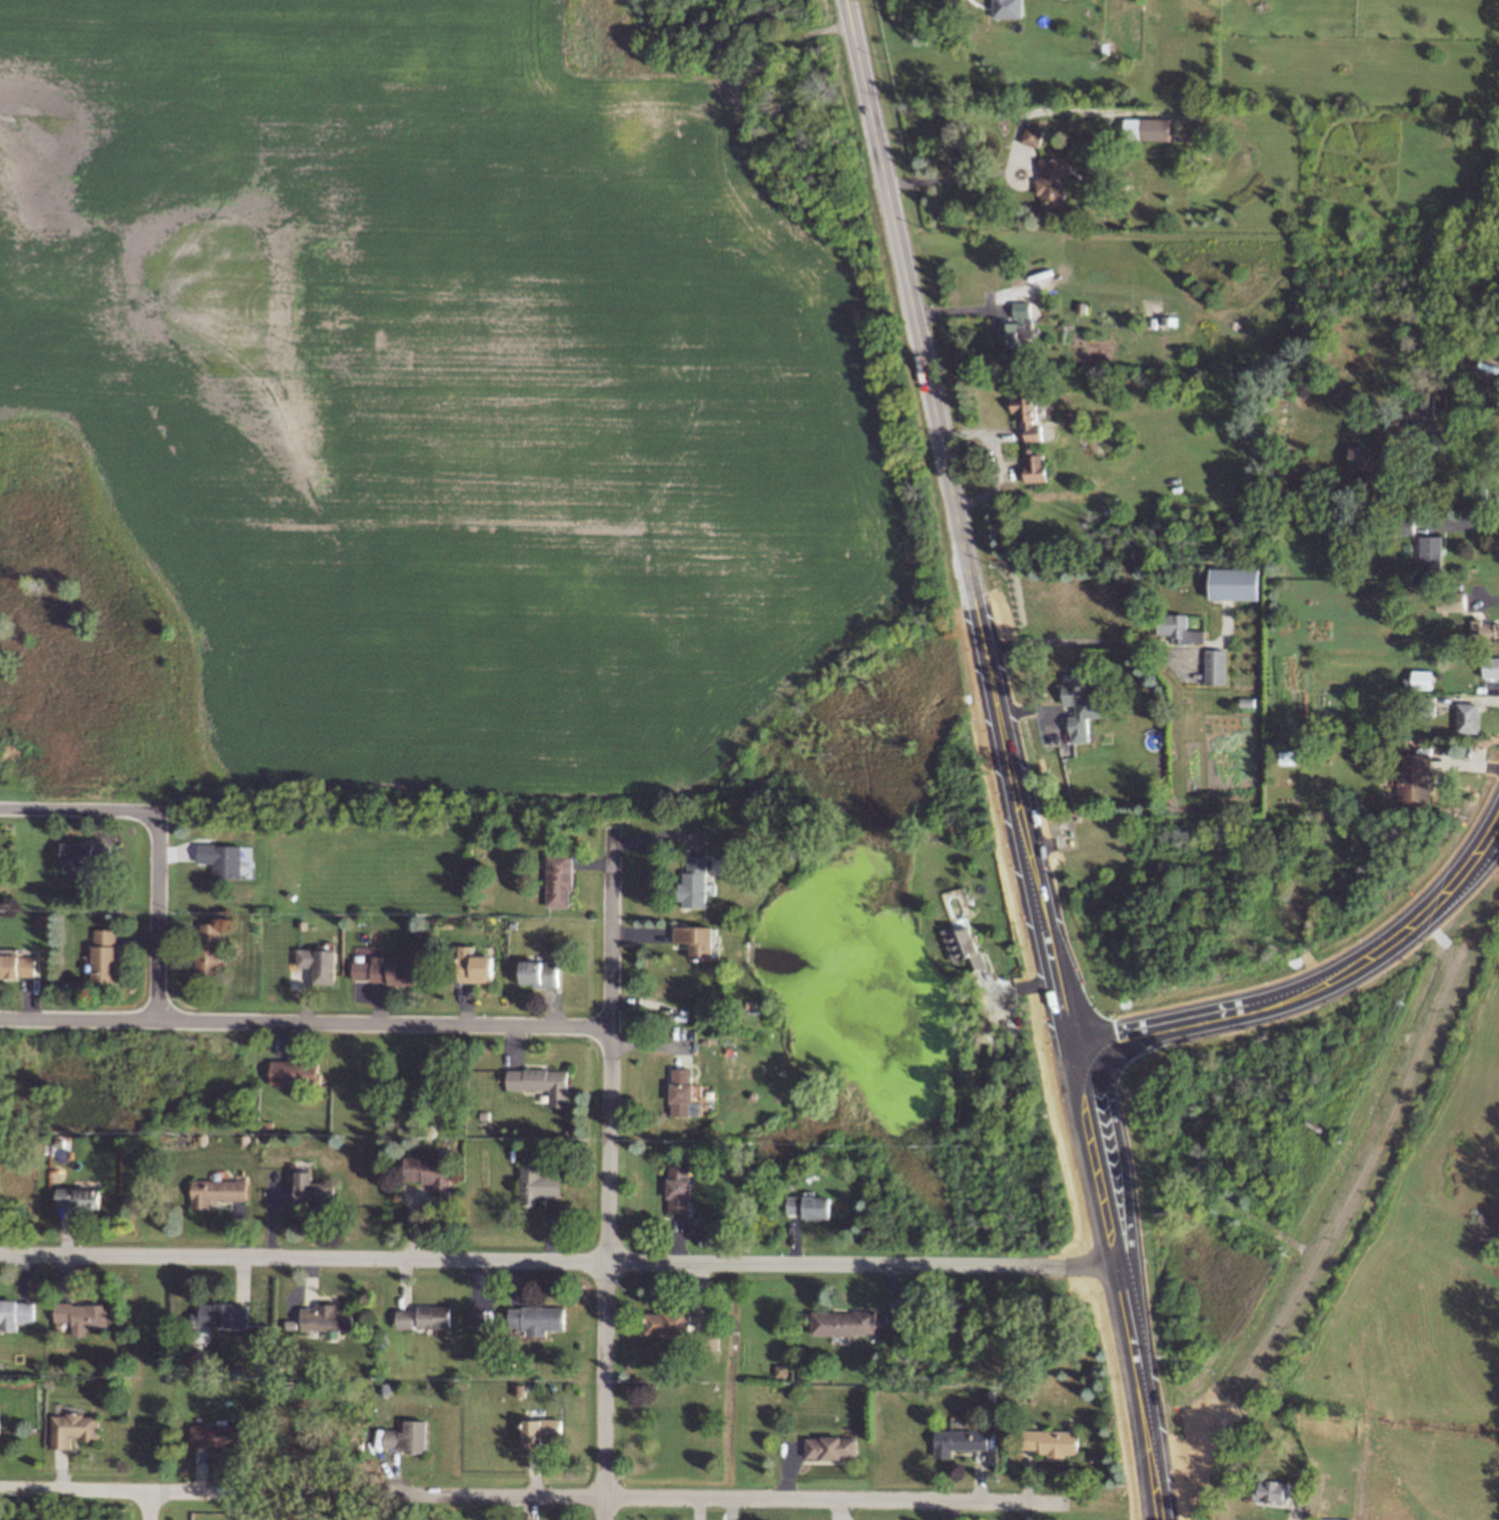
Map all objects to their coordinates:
building: (1008, 8)
building: (1146, 129)
building: (1032, 135)
road: (953, 179)
building: (1052, 182)
building: (1016, 325)
crop: (433, 390)
building: (1421, 410)
road: (1455, 434)
building: (1030, 437)
building: (1367, 461)
road: (1466, 524)
building: (1406, 526)
building: (1430, 554)
building: (1235, 583)
building: (1451, 603)
building: (1179, 629)
building: (1486, 630)
road: (1087, 641)
building: (1216, 666)
building: (1491, 667)
building: (1422, 680)
building: (1082, 704)
building: (1468, 717)
road: (1001, 718)
crop: (6, 754)
building: (1414, 776)
road: (77, 809)
building: (84, 857)
building: (218, 858)
building: (720, 866)
building: (556, 877)
building: (692, 884)
road: (155, 918)
building: (693, 941)
building: (963, 947)
building: (103, 957)
building: (207, 958)
building: (317, 966)
building: (14, 967)
building: (471, 969)
building: (383, 971)
building: (538, 973)
road: (1306, 973)
road: (305, 1024)
building: (296, 1073)
building: (532, 1081)
building: (681, 1091)
road: (1382, 1137)
building: (428, 1171)
road: (610, 1177)
building: (538, 1183)
building: (676, 1190)
building: (215, 1191)
building: (311, 1191)
building: (78, 1197)
building: (805, 1208)
road: (1281, 1237)
crop: (1422, 1257)
road: (559, 1263)
building: (14, 1314)
building: (219, 1316)
building: (82, 1317)
building: (479, 1317)
building: (430, 1318)
building: (324, 1319)
building: (537, 1321)
building: (841, 1324)
building: (665, 1325)
building: (74, 1430)
road: (1191, 1430)
building: (538, 1431)
building: (218, 1435)
building: (403, 1438)
building: (962, 1443)
building: (1049, 1443)
building: (828, 1448)
road: (1196, 1462)
road: (1155, 1479)
building: (1272, 1490)
road: (118, 1491)
road: (728, 1499)
road: (1294, 1505)
road: (149, 1506)
building: (1331, 1519)

